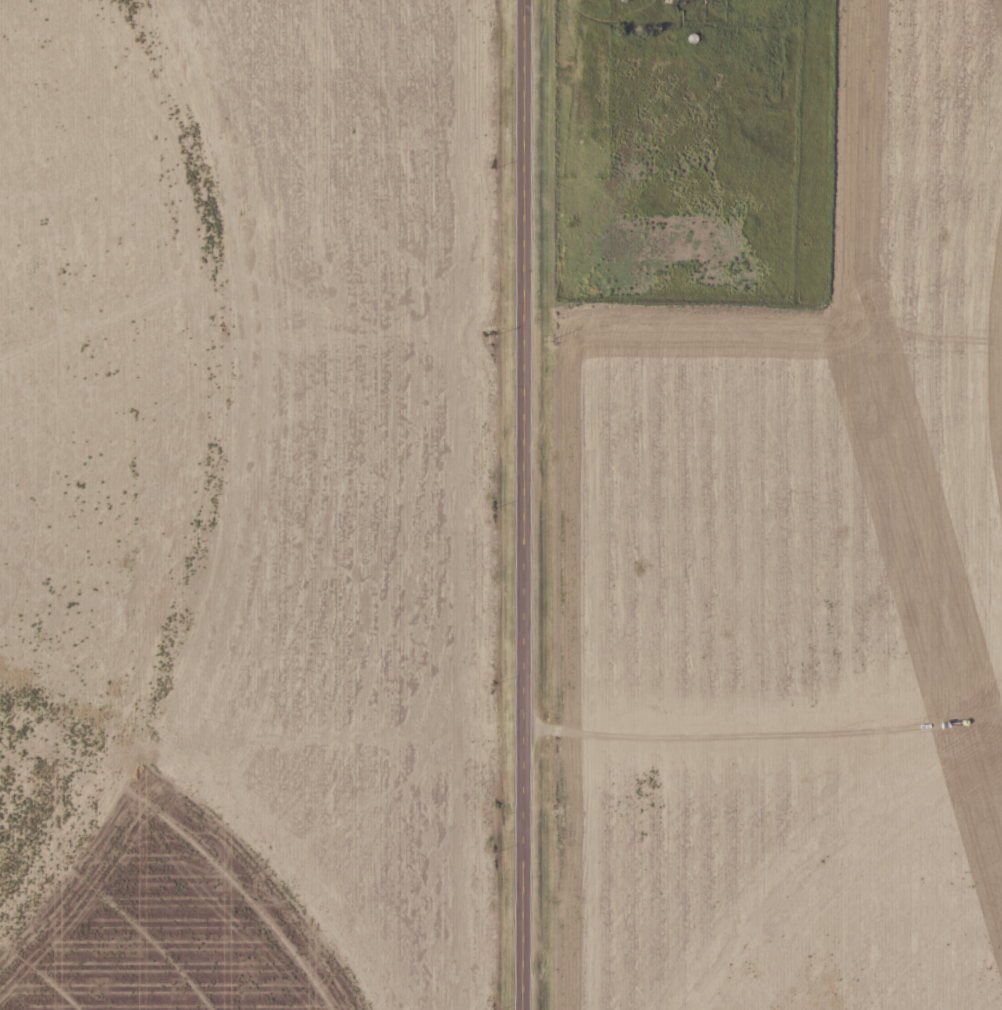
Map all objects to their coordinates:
road: (521, 505)

